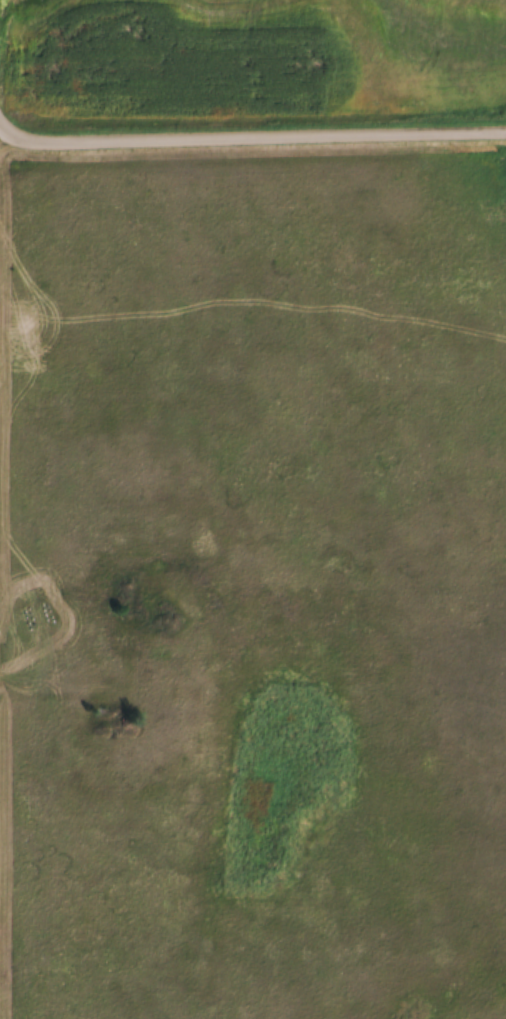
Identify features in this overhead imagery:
road: (253, 139)

